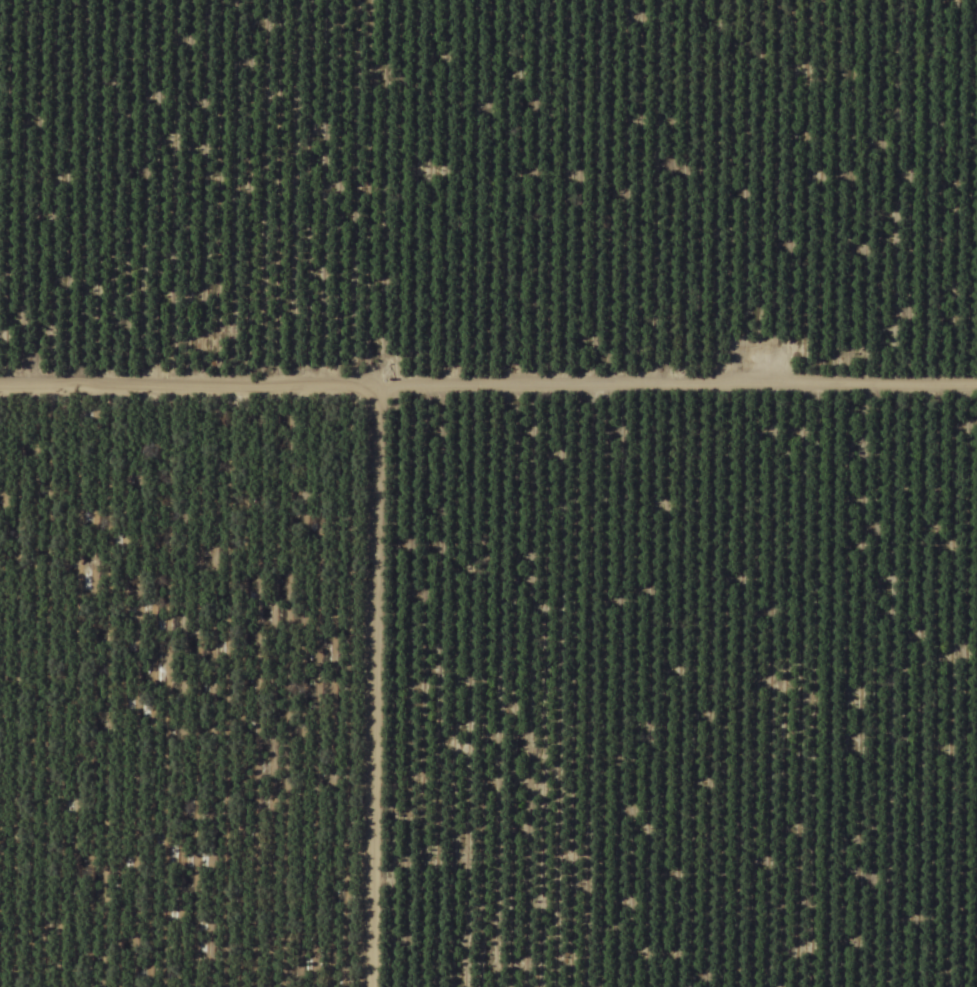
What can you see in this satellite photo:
crop: (488, 493)

